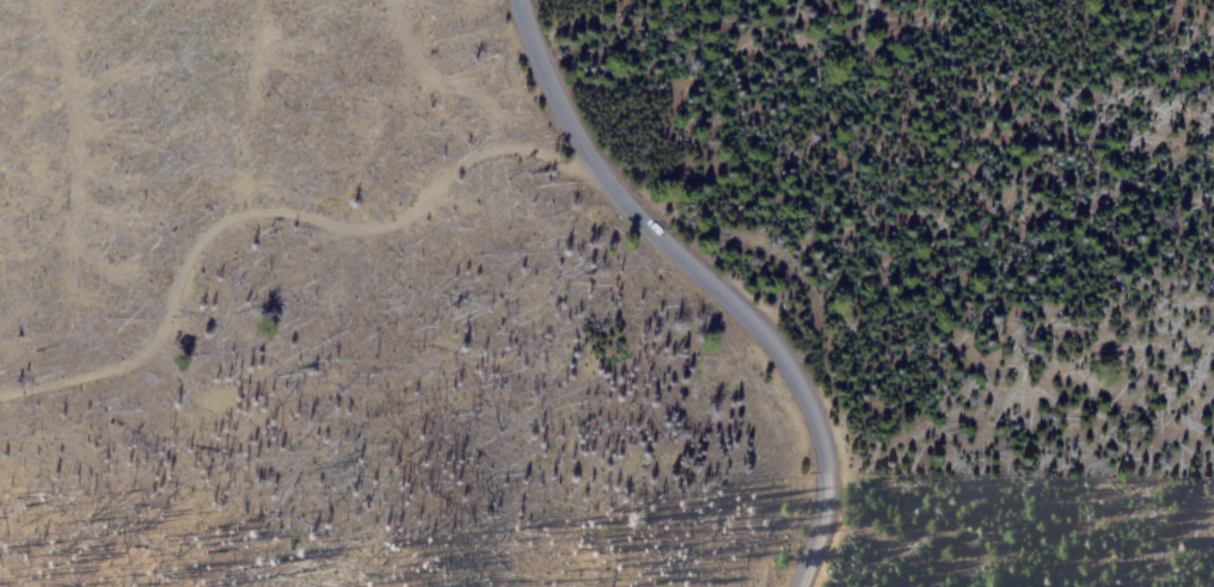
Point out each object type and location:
road: (276, 212)
road: (709, 283)

